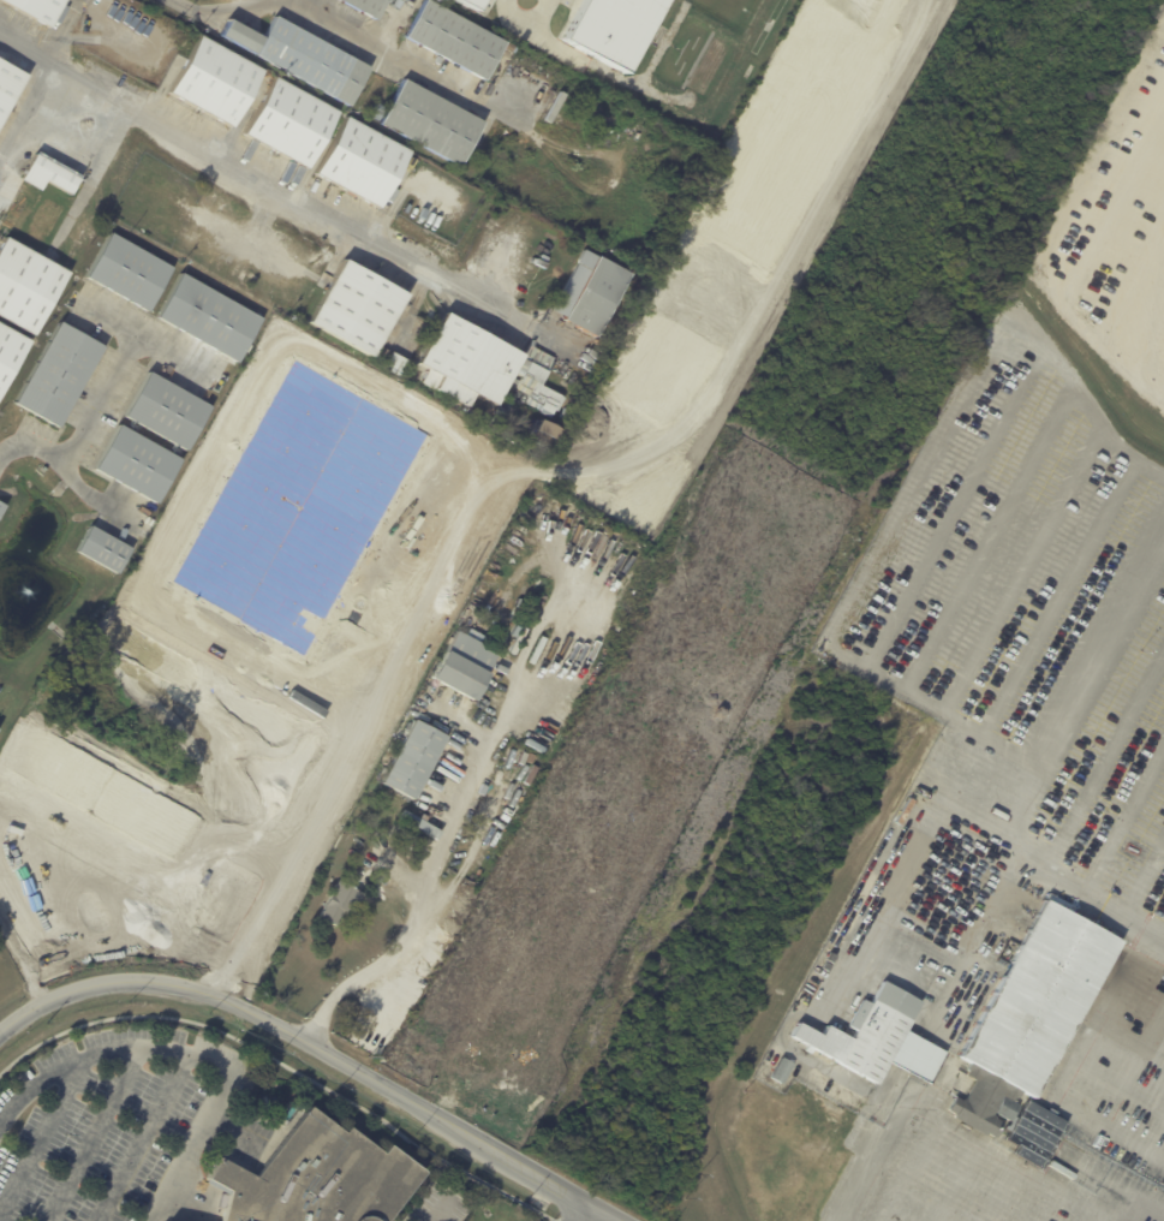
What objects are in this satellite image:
building: (470, 2)
building: (366, 6)
building: (37, 8)
road: (529, 23)
road: (346, 28)
building: (609, 28)
building: (455, 38)
building: (302, 55)
building: (542, 65)
building: (215, 81)
building: (10, 85)
building: (555, 106)
building: (289, 121)
building: (429, 121)
road: (32, 127)
building: (364, 162)
building: (50, 174)
road: (277, 186)
building: (405, 207)
building: (232, 212)
building: (280, 233)
building: (129, 270)
building: (28, 282)
building: (281, 288)
building: (592, 293)
building: (359, 308)
building: (210, 316)
building: (10, 352)
building: (398, 364)
building: (485, 368)
building: (60, 374)
building: (168, 410)
building: (566, 413)
road: (88, 427)
building: (549, 436)
building: (138, 463)
road: (921, 475)
road: (956, 502)
building: (1, 508)
building: (105, 548)
road: (1022, 570)
road: (959, 591)
road: (1059, 596)
road: (1102, 659)
building: (465, 665)
building: (414, 758)
road: (1104, 762)
road: (939, 802)
road: (1123, 818)
building: (418, 824)
building: (399, 829)
road: (426, 874)
road: (1144, 878)
building: (938, 901)
building: (341, 903)
road: (992, 906)
road: (1163, 937)
building: (837, 943)
building: (830, 952)
road: (828, 1006)
building: (1029, 1029)
building: (877, 1038)
road: (320, 1048)
road: (190, 1052)
road: (1153, 1055)
road: (1133, 1068)
building: (778, 1071)
road: (1142, 1100)
building: (264, 1103)
building: (283, 1106)
road: (945, 1122)
road: (95, 1132)
road: (1117, 1133)
road: (42, 1134)
road: (143, 1136)
building: (237, 1162)
road: (912, 1171)
building: (316, 1178)
road: (954, 1180)
road: (1110, 1181)
road: (1001, 1192)
road: (1047, 1203)
road: (442, 1208)
road: (1139, 1211)
road: (587, 1213)
road: (1109, 1215)

